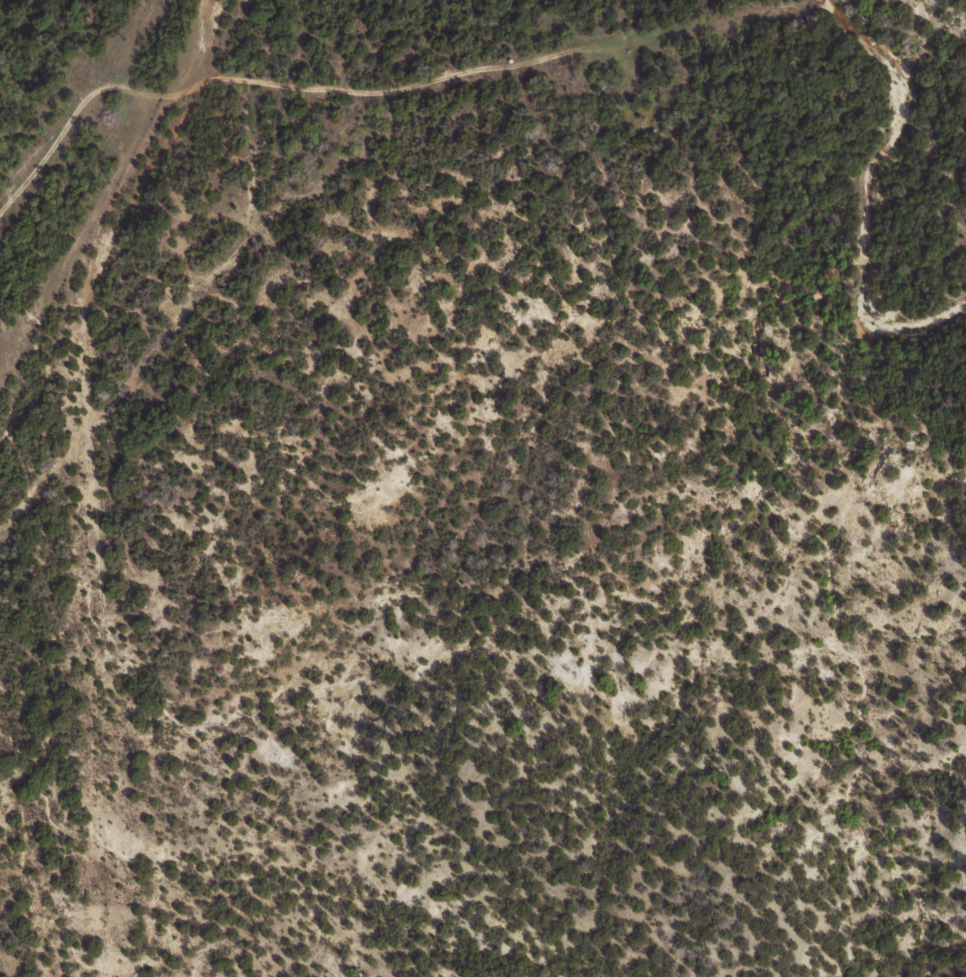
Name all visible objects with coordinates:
road: (430, 91)
road: (233, 104)
road: (150, 291)

